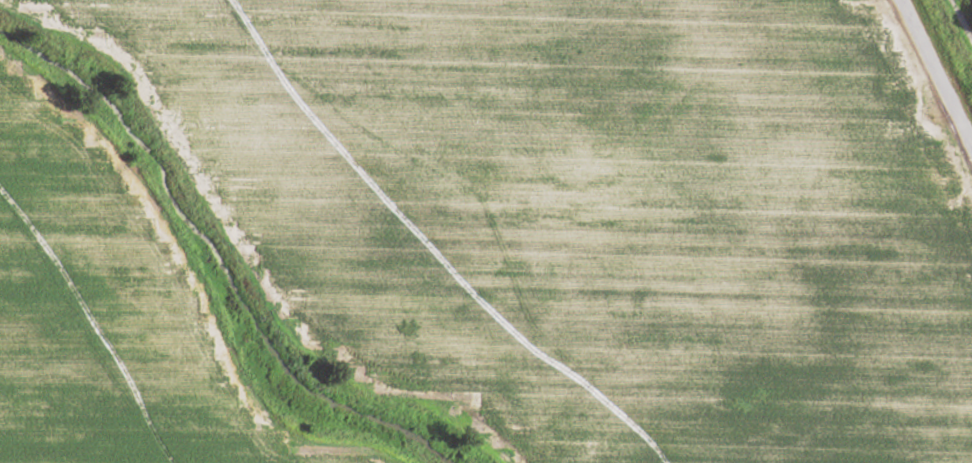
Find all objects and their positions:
railway: (957, 29)
road: (932, 79)

